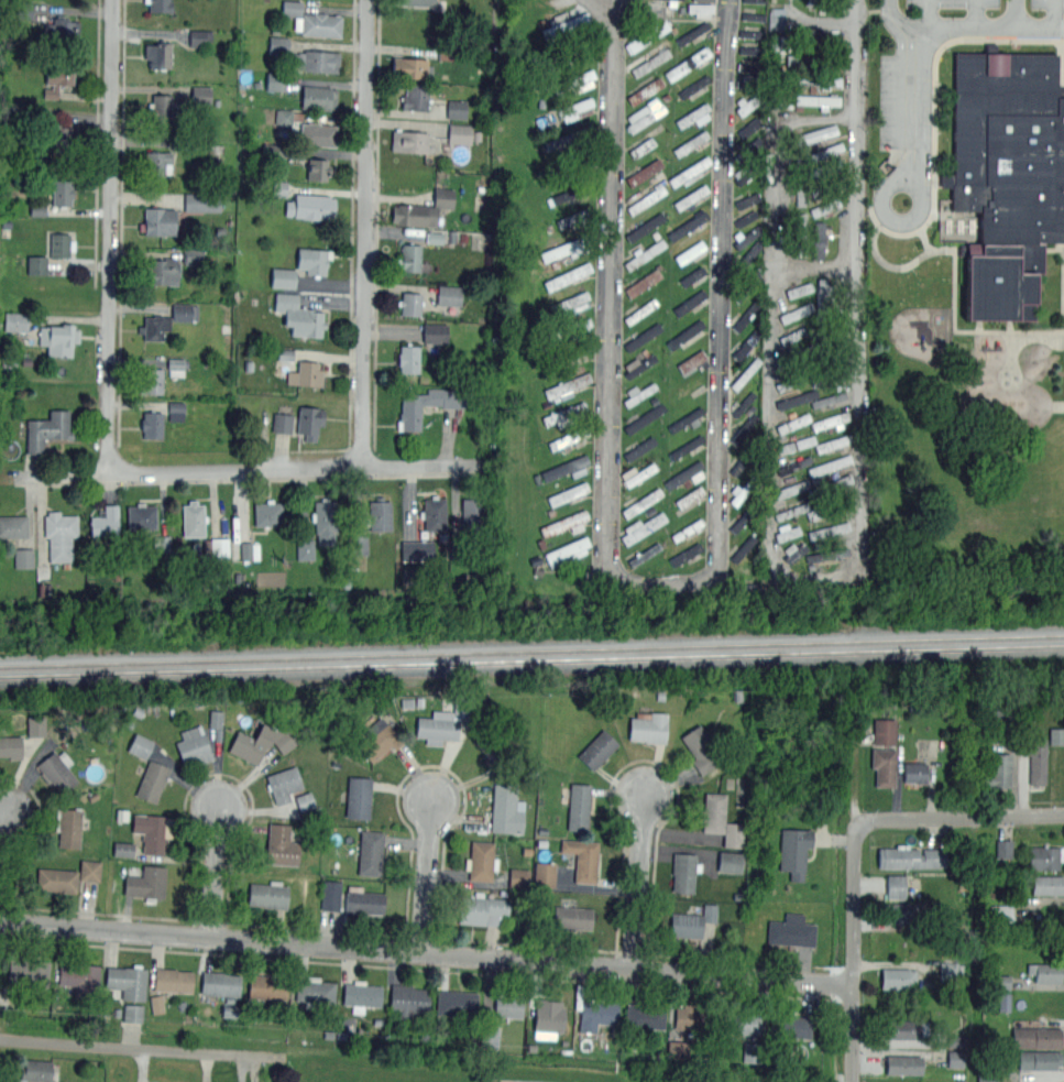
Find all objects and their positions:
building: (755, 0)
building: (414, 2)
building: (672, 2)
parking lot: (954, 2)
parking lot: (1047, 3)
building: (824, 4)
building: (160, 6)
building: (699, 7)
building: (25, 10)
building: (753, 14)
road: (930, 14)
road: (976, 14)
road: (1016, 14)
road: (1054, 14)
building: (776, 18)
building: (311, 20)
building: (566, 23)
building: (62, 30)
road: (966, 30)
building: (692, 32)
building: (749, 32)
building: (647, 33)
building: (200, 37)
building: (810, 37)
building: (278, 44)
building: (750, 50)
building: (572, 52)
building: (158, 54)
building: (318, 59)
building: (692, 59)
building: (805, 59)
building: (410, 67)
building: (749, 67)
building: (56, 79)
building: (572, 79)
building: (815, 79)
building: (747, 80)
building: (274, 83)
building: (694, 84)
building: (647, 88)
building: (785, 89)
building: (201, 95)
building: (317, 96)
building: (414, 96)
building: (747, 99)
parking lot: (892, 100)
building: (815, 101)
building: (574, 106)
road: (908, 106)
building: (162, 108)
building: (457, 109)
building: (692, 114)
building: (645, 117)
building: (284, 118)
building: (749, 127)
building: (317, 133)
building: (460, 133)
building: (812, 134)
building: (569, 136)
building: (59, 139)
building: (409, 141)
building: (690, 142)
building: (639, 149)
building: (747, 149)
building: (824, 151)
building: (792, 157)
building: (812, 159)
building: (157, 163)
building: (569, 163)
road: (774, 164)
building: (317, 168)
building: (689, 168)
building: (823, 168)
building: (644, 171)
building: (748, 173)
building: (1007, 175)
building: (826, 185)
building: (571, 190)
building: (799, 190)
building: (62, 192)
building: (691, 195)
building: (647, 198)
building: (746, 199)
building: (201, 201)
building: (310, 205)
road: (922, 206)
building: (823, 207)
building: (37, 208)
building: (421, 209)
building: (573, 217)
building: (745, 218)
building: (158, 221)
building: (687, 225)
building: (645, 227)
road: (365, 232)
building: (801, 234)
road: (110, 238)
building: (435, 238)
building: (744, 238)
building: (820, 240)
building: (61, 244)
building: (564, 247)
building: (690, 252)
building: (645, 254)
building: (193, 256)
building: (409, 256)
building: (746, 256)
building: (312, 260)
building: (36, 265)
road: (814, 269)
building: (162, 272)
building: (577, 272)
road: (603, 276)
building: (690, 276)
building: (283, 277)
building: (909, 280)
building: (644, 281)
building: (746, 286)
building: (800, 289)
building: (449, 295)
building: (820, 298)
building: (690, 302)
building: (409, 303)
building: (566, 303)
building: (580, 305)
building: (640, 310)
building: (796, 312)
building: (297, 315)
building: (745, 316)
building: (166, 320)
building: (15, 321)
building: (569, 328)
building: (793, 331)
building: (832, 331)
building: (435, 332)
building: (683, 332)
building: (641, 336)
building: (58, 338)
building: (746, 345)
road: (724, 347)
building: (829, 353)
building: (796, 354)
building: (408, 359)
building: (692, 360)
building: (639, 365)
building: (304, 373)
building: (744, 373)
building: (832, 376)
building: (793, 380)
building: (151, 381)
building: (569, 384)
building: (689, 389)
building: (639, 393)
building: (829, 398)
building: (796, 400)
building: (745, 401)
building: (176, 408)
building: (410, 408)
building: (564, 412)
building: (684, 418)
building: (640, 419)
building: (309, 420)
building: (830, 420)
building: (282, 423)
building: (793, 423)
building: (152, 424)
building: (744, 428)
building: (46, 430)
building: (569, 438)
building: (831, 442)
building: (685, 446)
building: (791, 446)
building: (639, 448)
building: (744, 458)
building: (832, 462)
road: (859, 463)
building: (793, 466)
building: (564, 467)
road: (252, 469)
building: (641, 473)
building: (683, 474)
building: (830, 483)
building: (791, 488)
building: (743, 490)
building: (568, 493)
building: (683, 500)
building: (641, 502)
building: (829, 506)
building: (791, 511)
building: (267, 513)
building: (432, 513)
building: (471, 513)
building: (380, 514)
building: (141, 516)
building: (743, 517)
building: (193, 518)
building: (325, 521)
building: (105, 522)
building: (566, 522)
building: (13, 526)
building: (688, 526)
building: (641, 527)
building: (831, 529)
building: (787, 533)
building: (59, 535)
building: (220, 547)
building: (743, 548)
building: (306, 549)
building: (250, 550)
building: (417, 550)
building: (796, 550)
building: (568, 553)
building: (646, 554)
building: (685, 554)
building: (827, 554)
building: (23, 558)
railway: (531, 651)
railway: (531, 659)
building: (216, 719)
building: (36, 724)
building: (437, 726)
building: (647, 726)
building: (885, 731)
building: (1056, 736)
building: (377, 739)
building: (261, 742)
building: (11, 745)
building: (140, 745)
building: (193, 745)
building: (492, 747)
building: (596, 748)
building: (701, 748)
building: (1035, 757)
building: (882, 766)
building: (57, 770)
building: (998, 770)
building: (914, 772)
building: (152, 780)
building: (283, 783)
building: (358, 797)
building: (304, 800)
building: (578, 806)
building: (506, 808)
road: (959, 815)
building: (720, 819)
building: (68, 827)
building: (152, 831)
building: (281, 845)
building: (122, 849)
building: (1005, 849)
building: (370, 852)
building: (793, 852)
building: (913, 856)
building: (1045, 856)
building: (581, 859)
building: (480, 860)
road: (3, 861)
building: (731, 862)
building: (90, 870)
building: (683, 871)
road: (215, 872)
building: (545, 874)
road: (426, 875)
building: (518, 877)
building: (56, 879)
road: (638, 881)
building: (146, 883)
building: (1047, 884)
building: (895, 886)
building: (267, 894)
building: (330, 895)
building: (363, 900)
building: (481, 908)
building: (899, 912)
building: (1002, 912)
building: (572, 917)
building: (685, 925)
building: (790, 930)
road: (853, 949)
road: (426, 953)
building: (948, 969)
building: (1045, 971)
building: (29, 973)
building: (898, 976)
building: (79, 977)
building: (172, 979)
building: (128, 981)
building: (219, 982)
building: (267, 986)
building: (314, 991)
building: (360, 994)
building: (407, 999)
building: (457, 1002)
building: (156, 1004)
building: (508, 1004)
building: (229, 1010)
building: (133, 1013)
building: (596, 1013)
building: (548, 1014)
building: (645, 1016)
building: (693, 1017)
building: (739, 1021)
building: (791, 1025)
building: (904, 1028)
building: (1034, 1034)
building: (490, 1037)
building: (678, 1048)
building: (752, 1051)
road: (143, 1053)
building: (955, 1058)
building: (1039, 1059)
building: (902, 1064)
building: (35, 1070)
building: (987, 1079)

